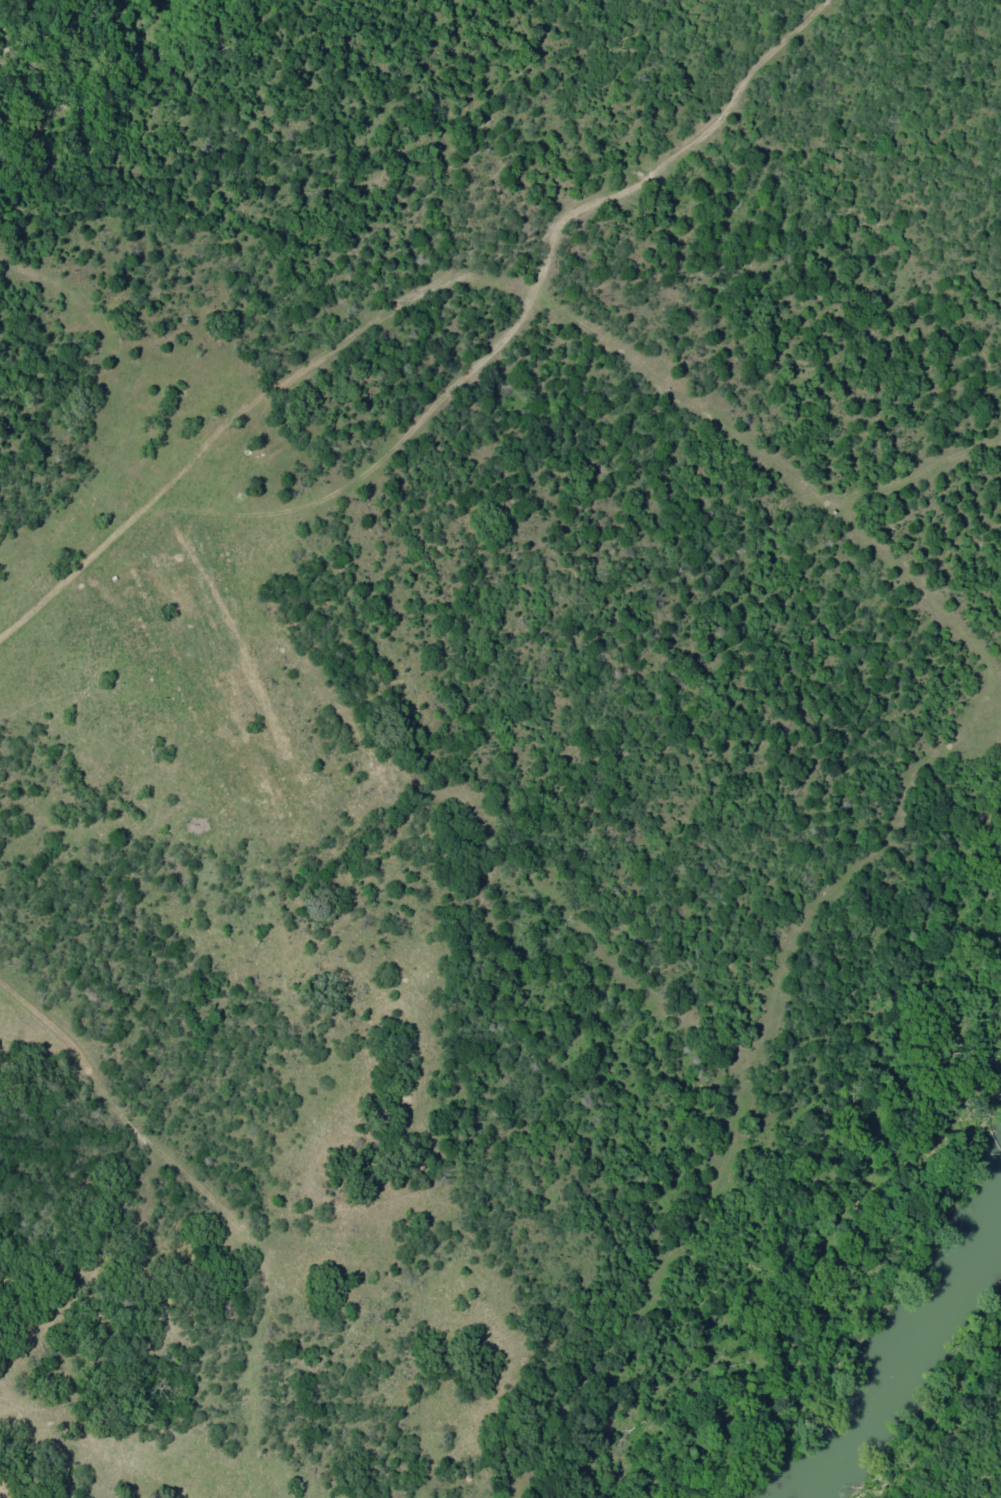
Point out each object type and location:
road: (476, 462)
river: (882, 1262)
road: (979, 1471)

